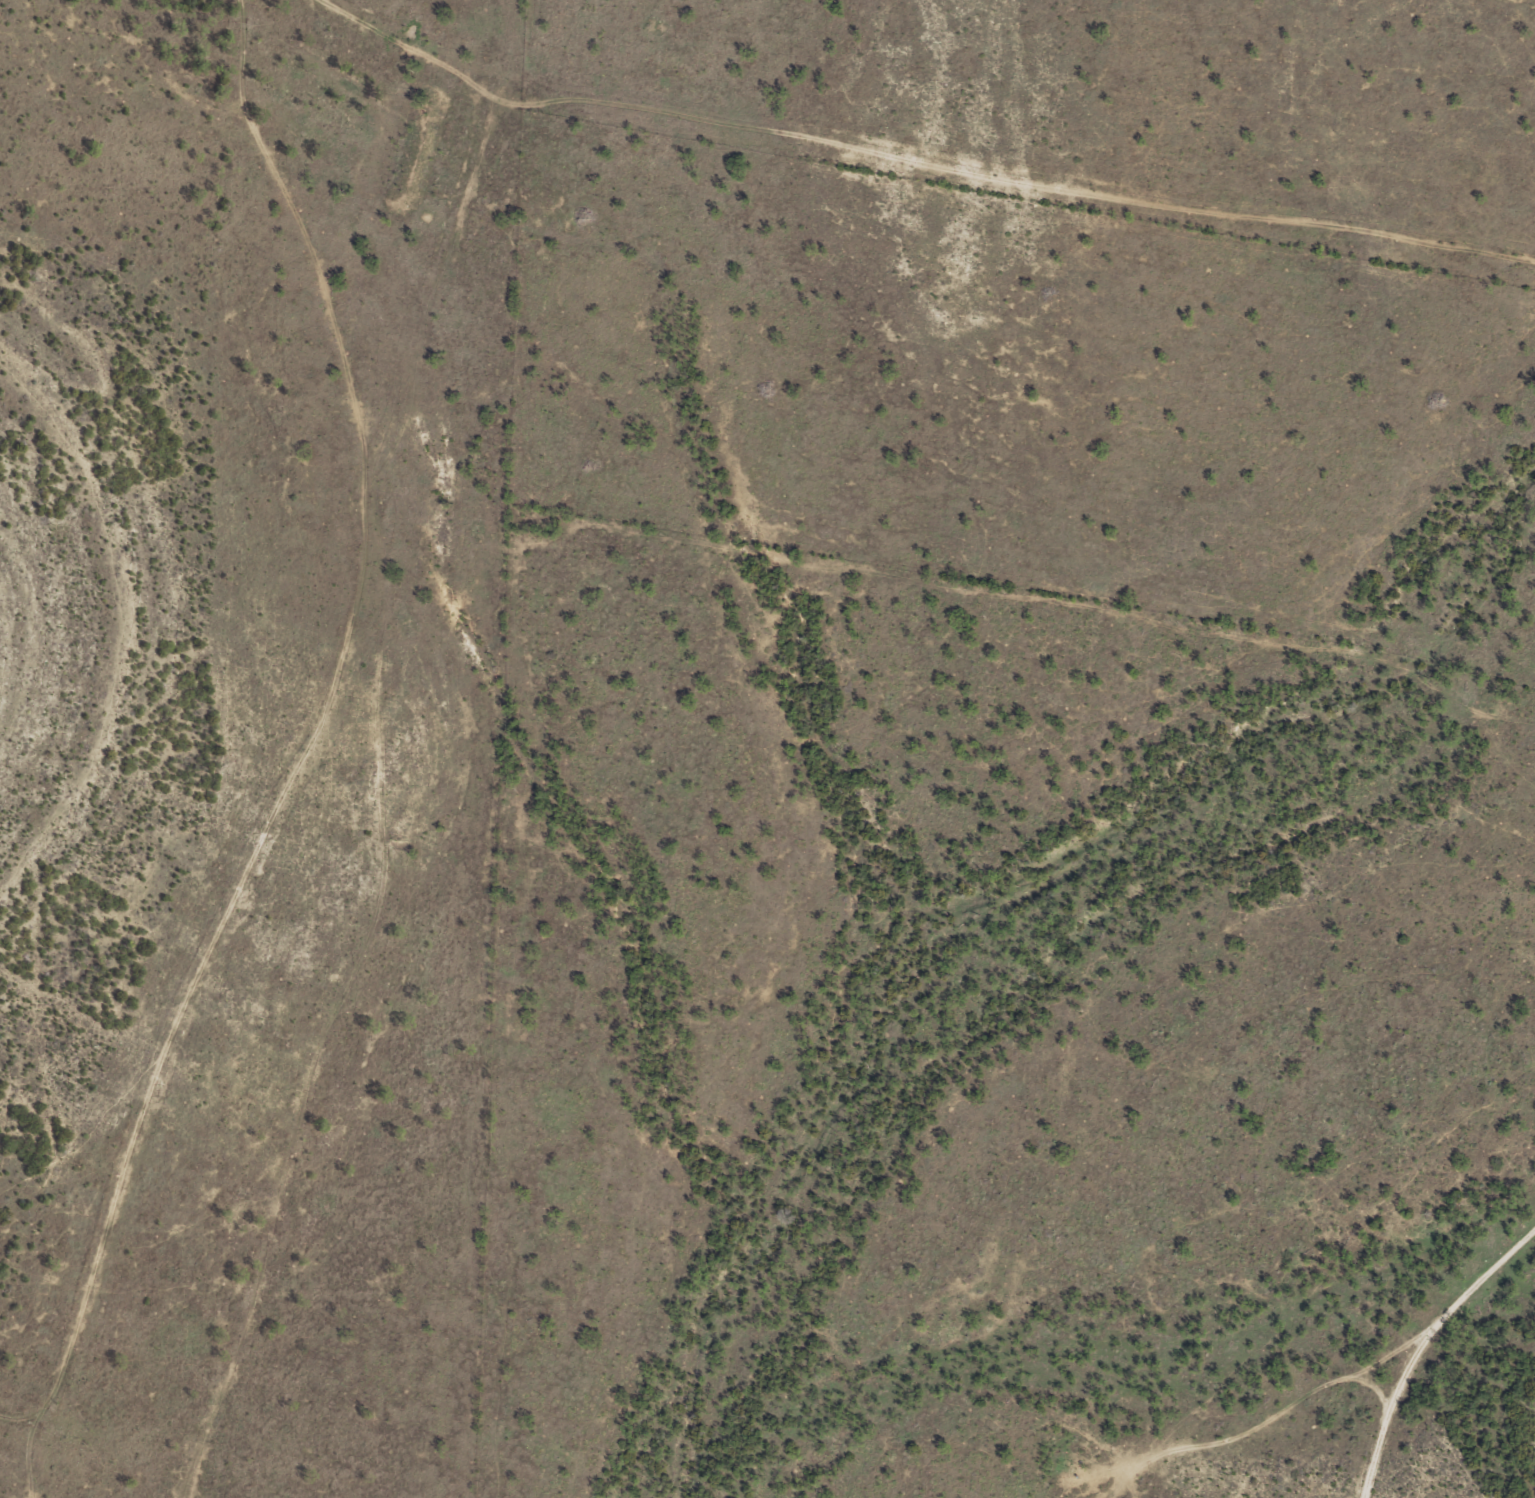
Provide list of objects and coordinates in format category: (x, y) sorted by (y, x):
road: (939, 146)
road: (347, 756)
road: (1447, 1371)

